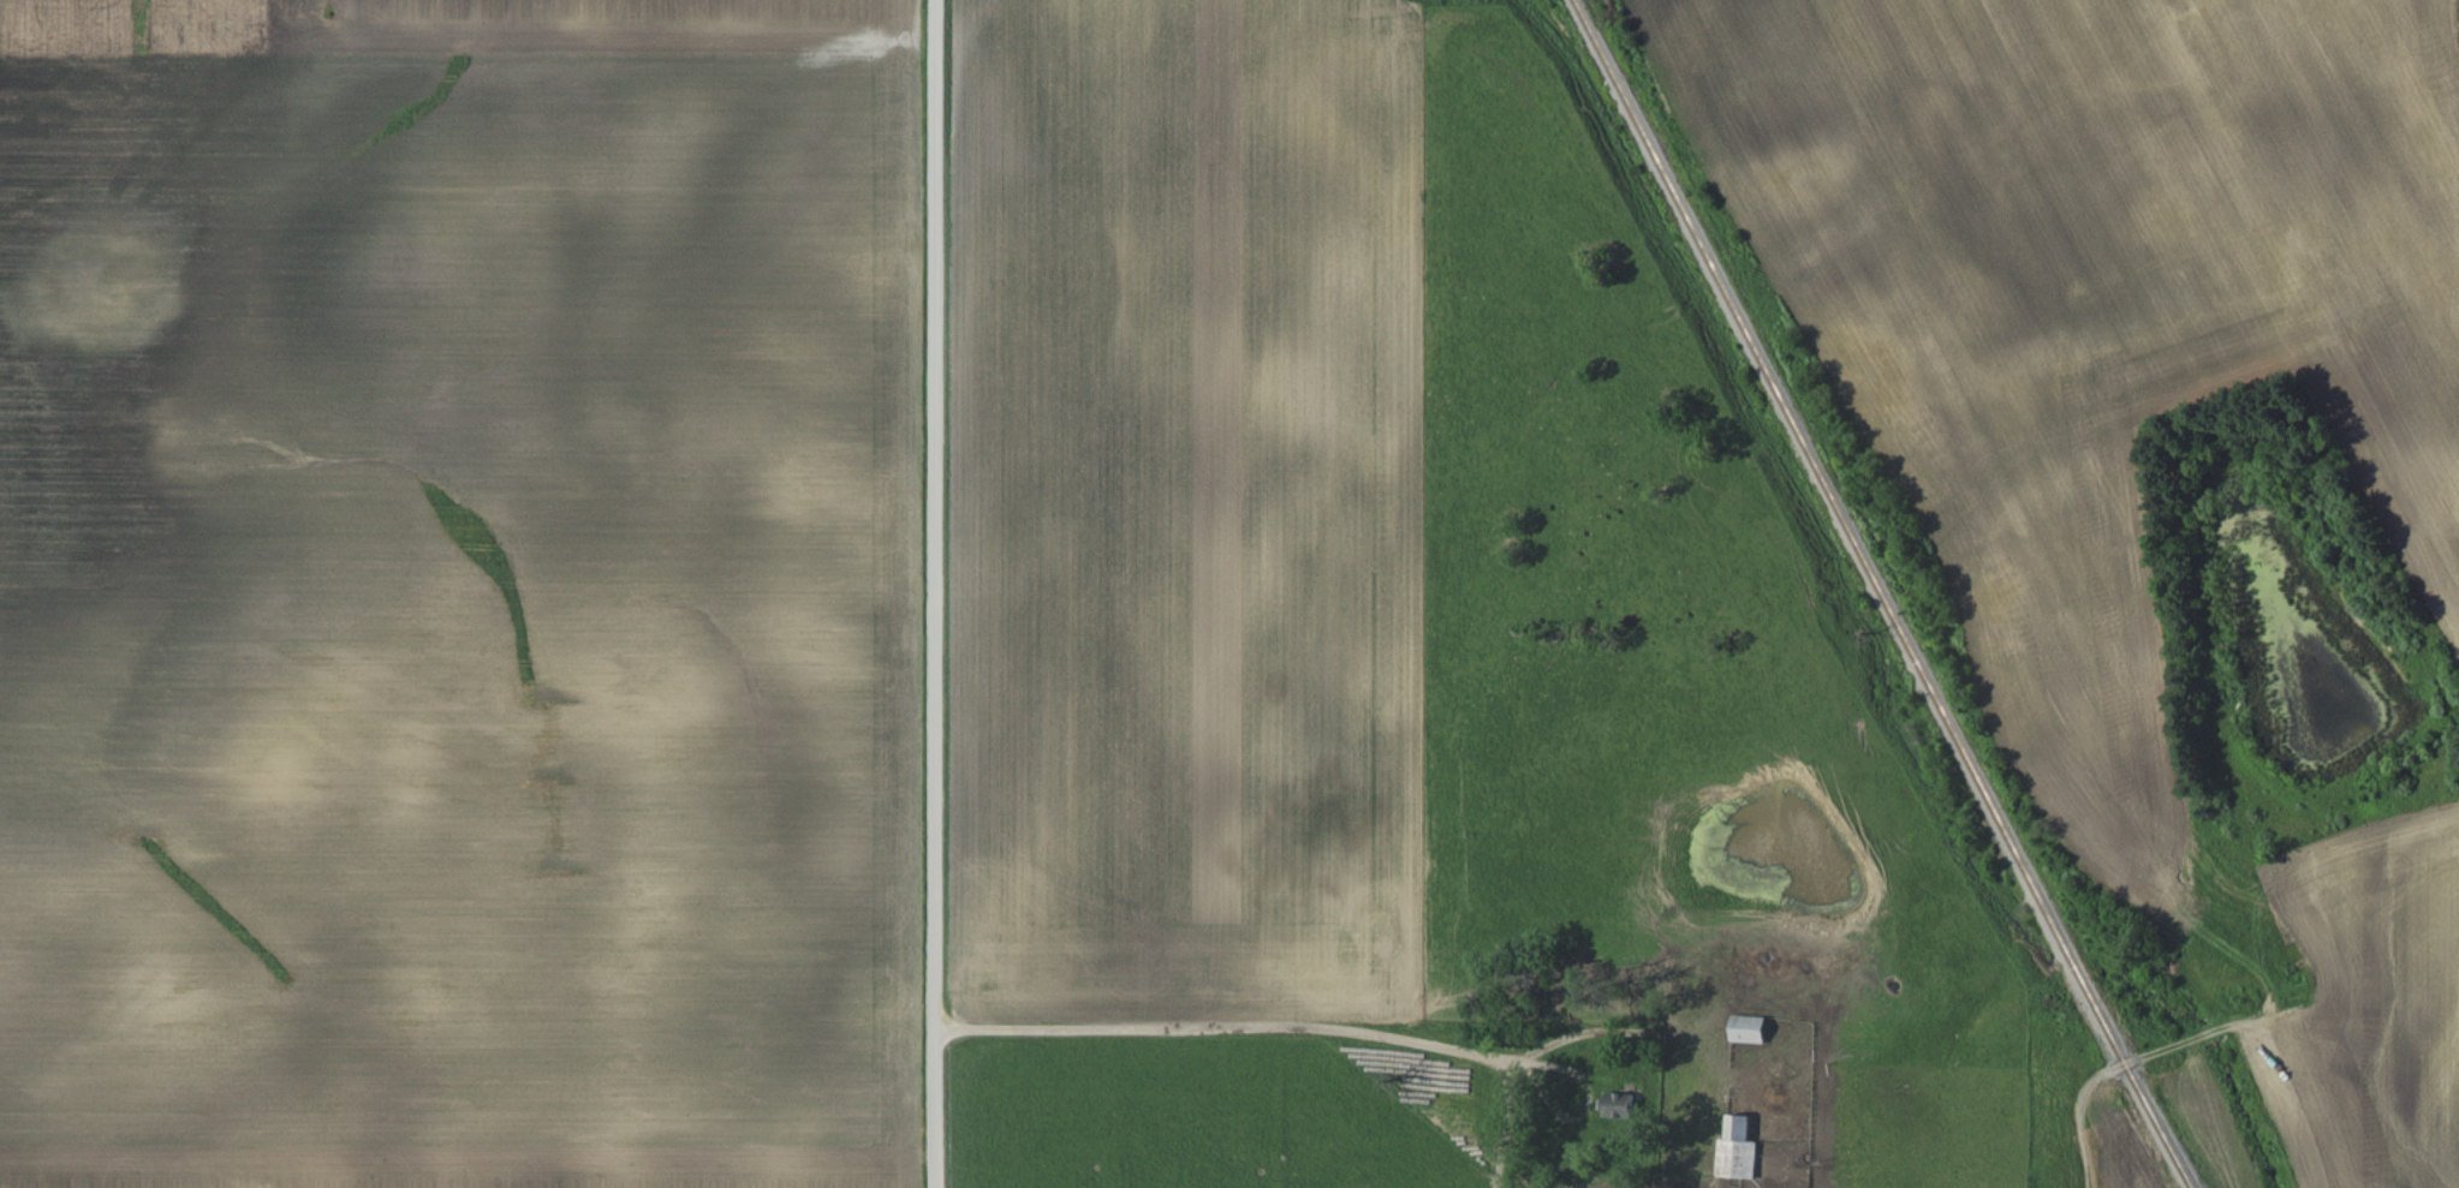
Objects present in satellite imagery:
road: (934, 593)
railway: (1880, 595)
road: (1207, 1027)
building: (1748, 1029)
building: (1738, 1151)

